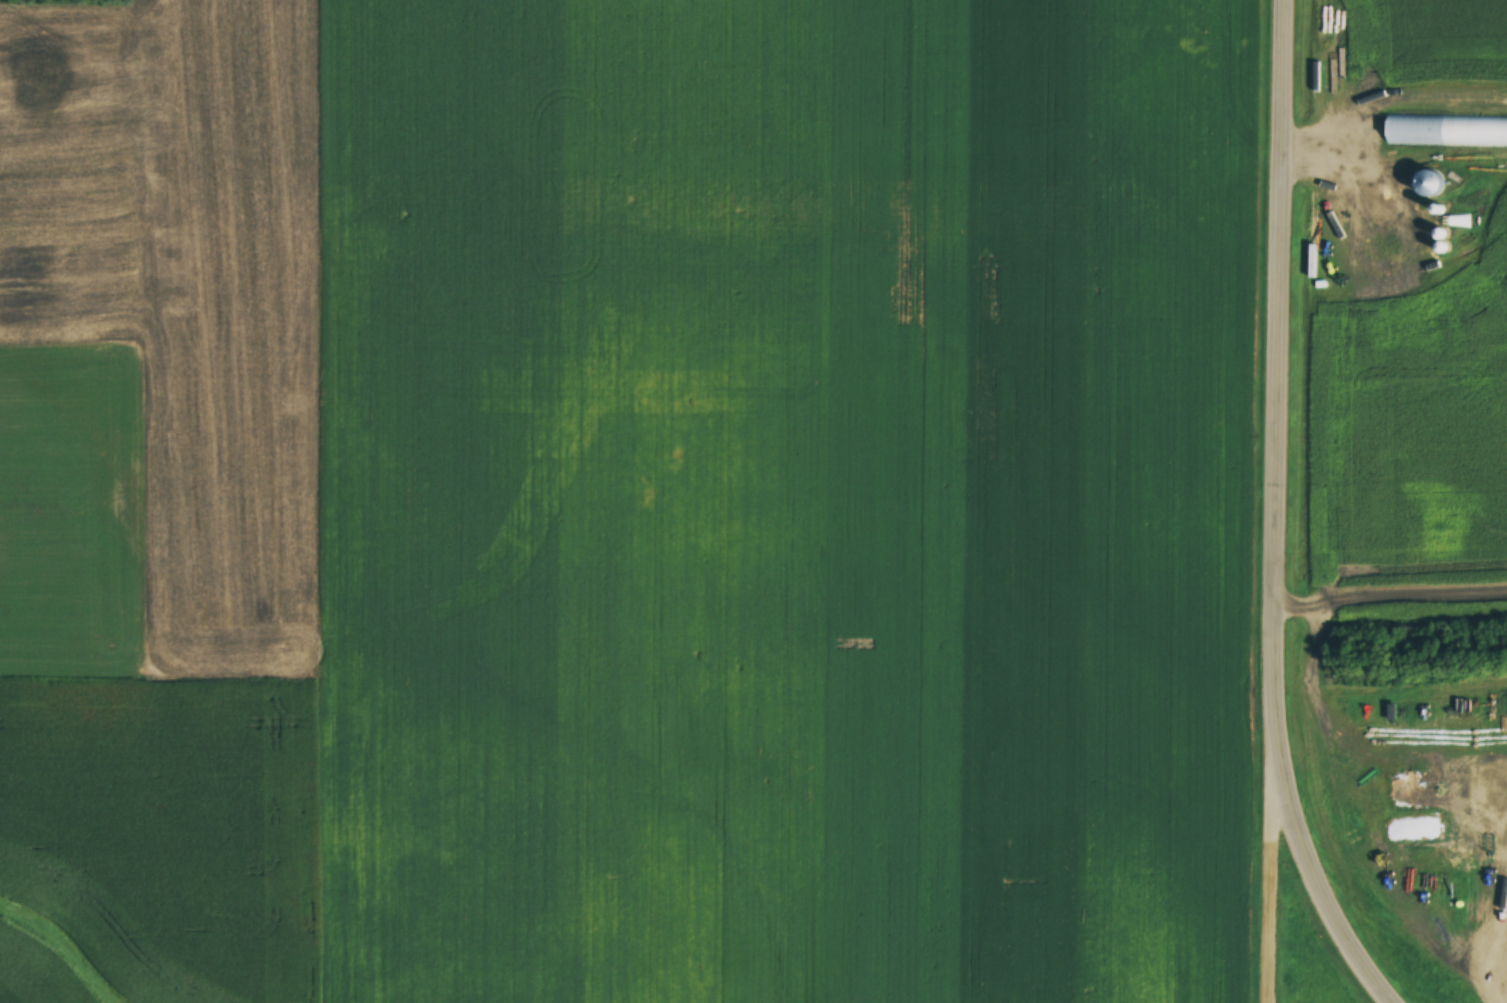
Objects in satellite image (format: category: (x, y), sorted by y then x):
building: (1417, 130)
building: (1436, 181)
road: (1287, 392)
road: (1279, 893)
road: (1328, 898)

